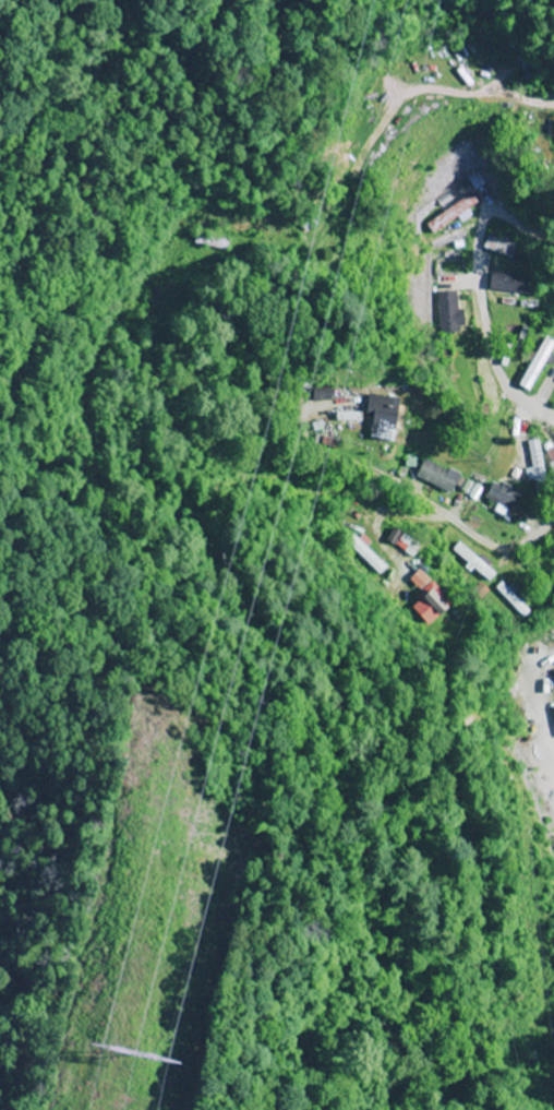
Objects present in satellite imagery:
building: (451, 214)
building: (202, 240)
building: (499, 246)
building: (508, 284)
building: (448, 312)
building: (535, 363)
building: (381, 413)
building: (347, 419)
building: (535, 464)
building: (436, 476)
road: (514, 539)

